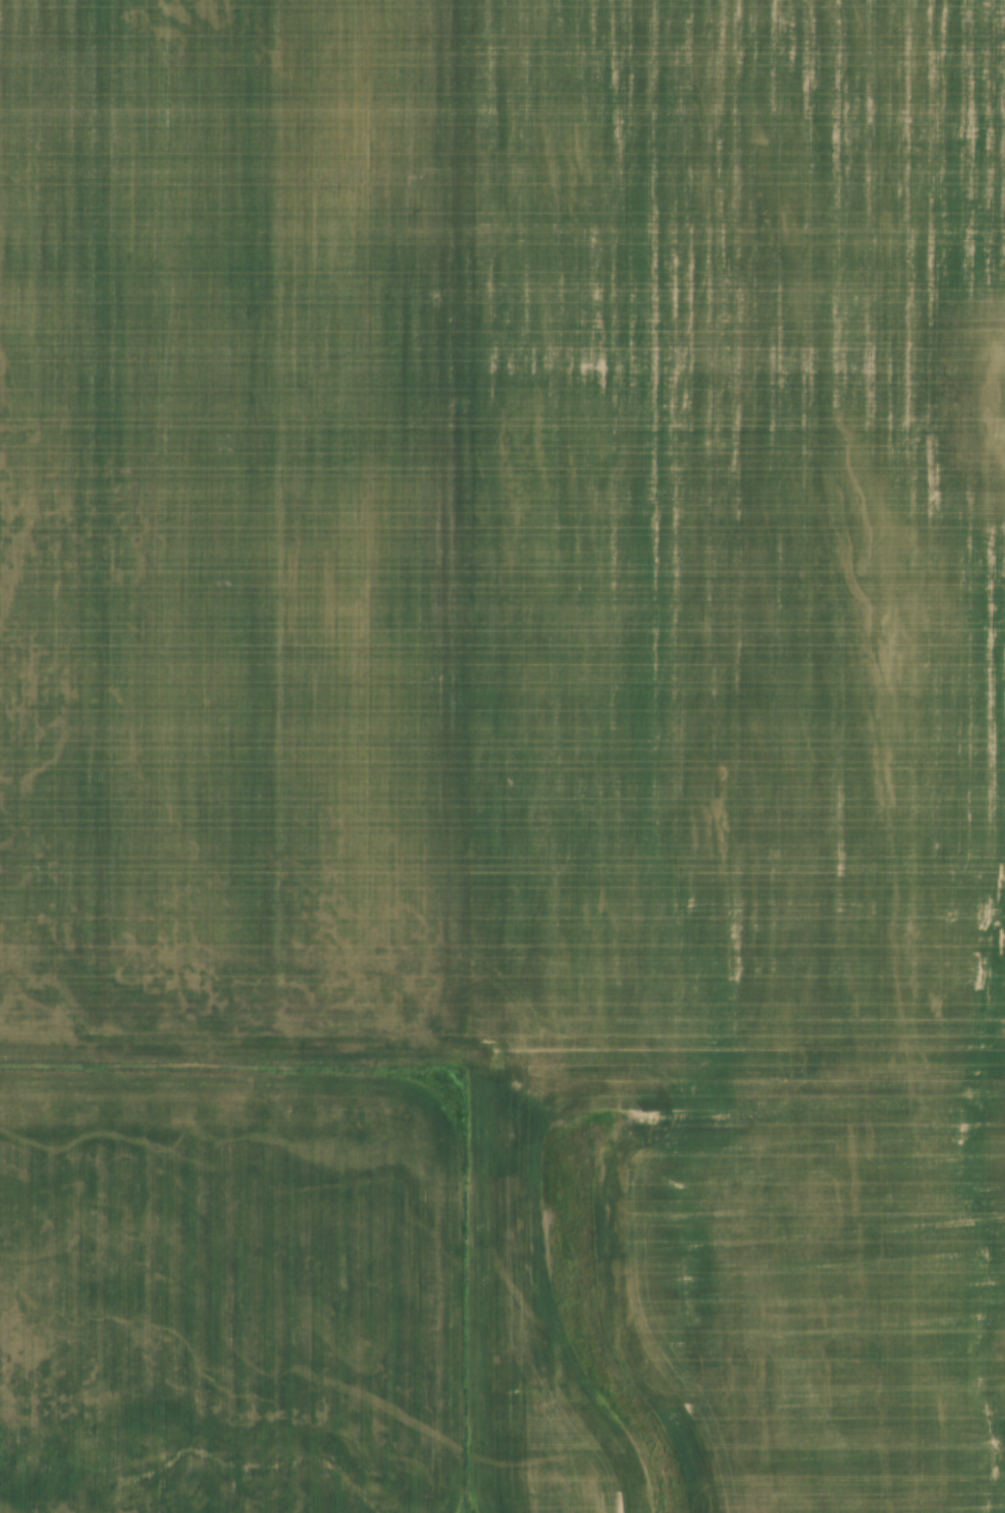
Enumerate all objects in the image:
road: (498, 1077)

